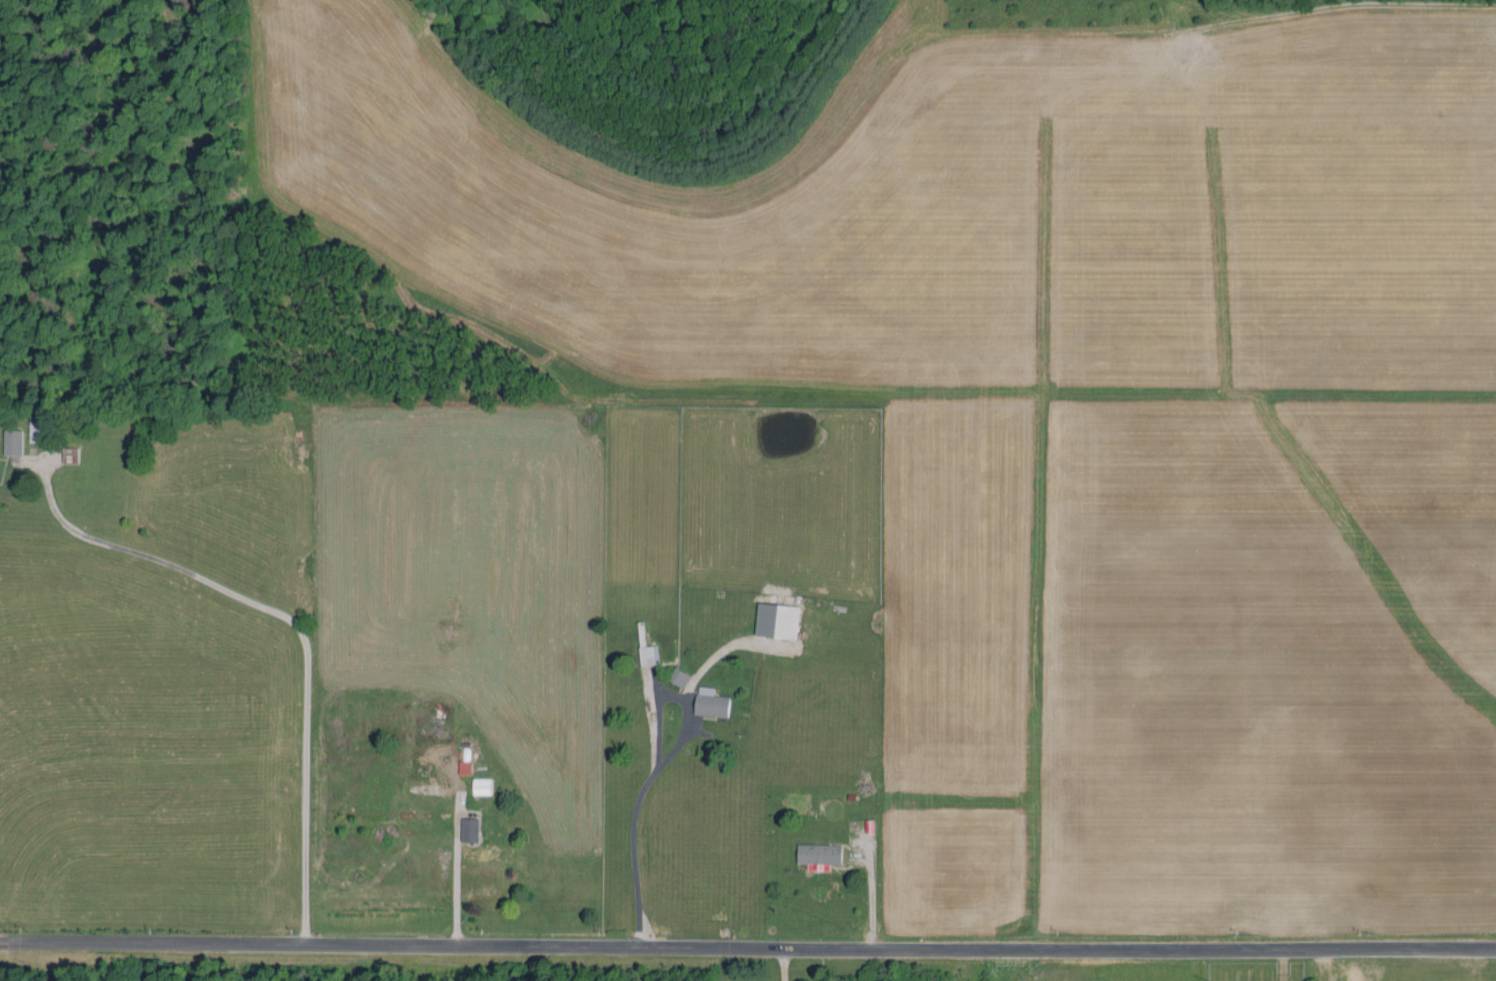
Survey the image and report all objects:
building: (777, 620)
road: (288, 628)
building: (647, 655)
building: (679, 676)
building: (711, 702)
road: (631, 829)
building: (819, 855)
road: (461, 892)
road: (748, 944)
road: (785, 963)

